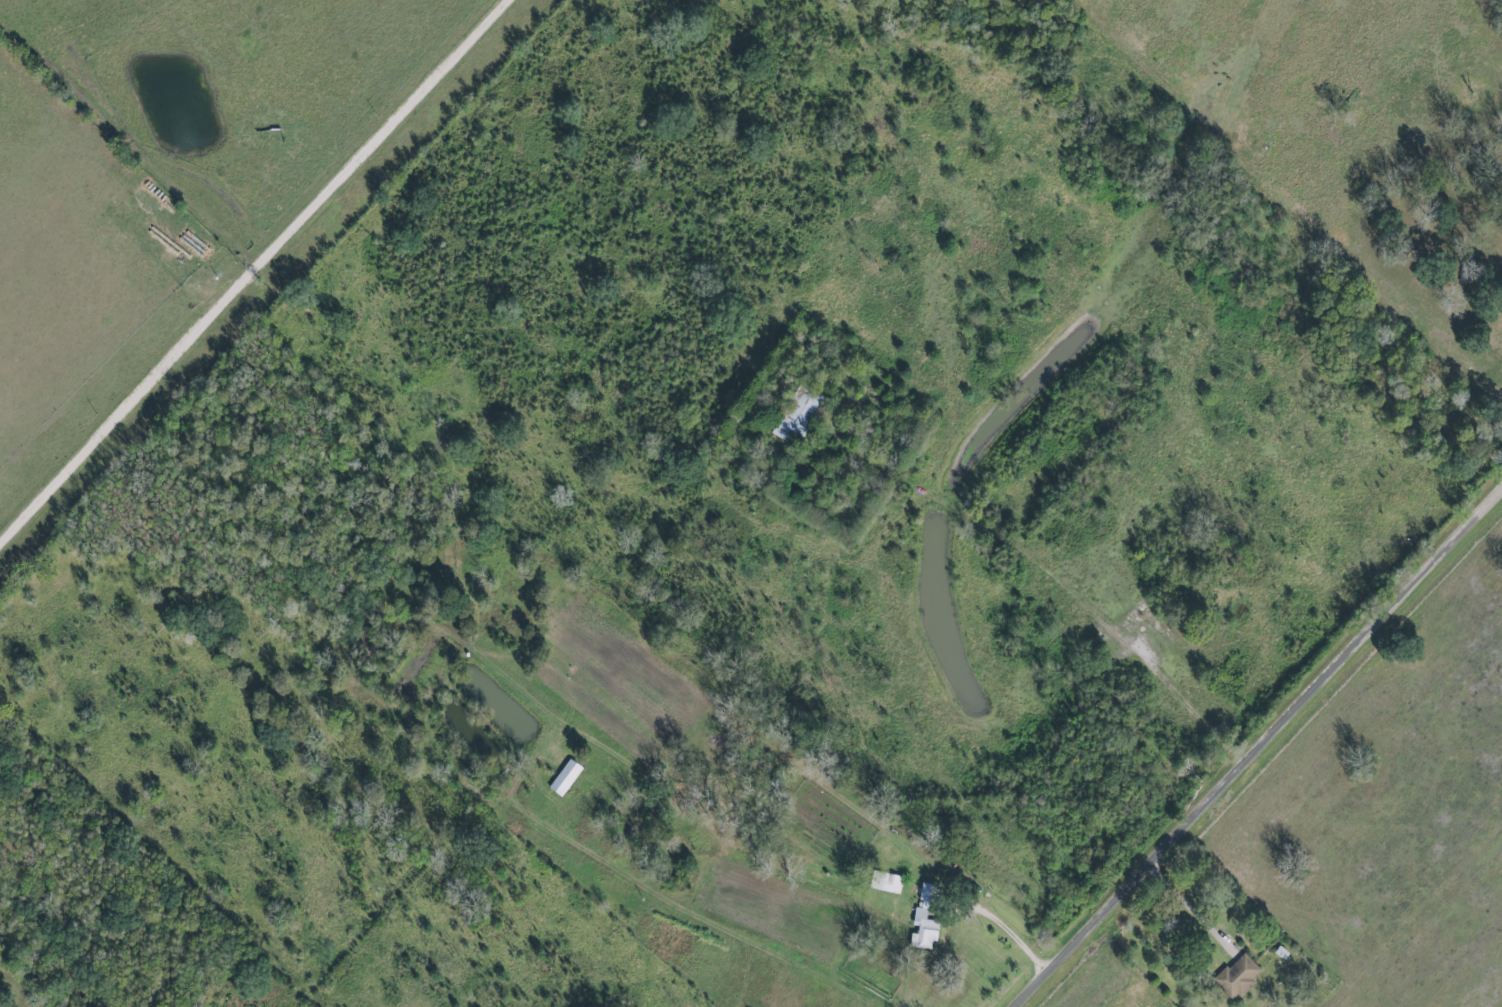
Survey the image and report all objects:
road: (257, 275)
road: (1055, 575)
road: (1261, 749)
building: (566, 777)
building: (887, 882)
building: (925, 922)
road: (1007, 922)
building: (1239, 976)

